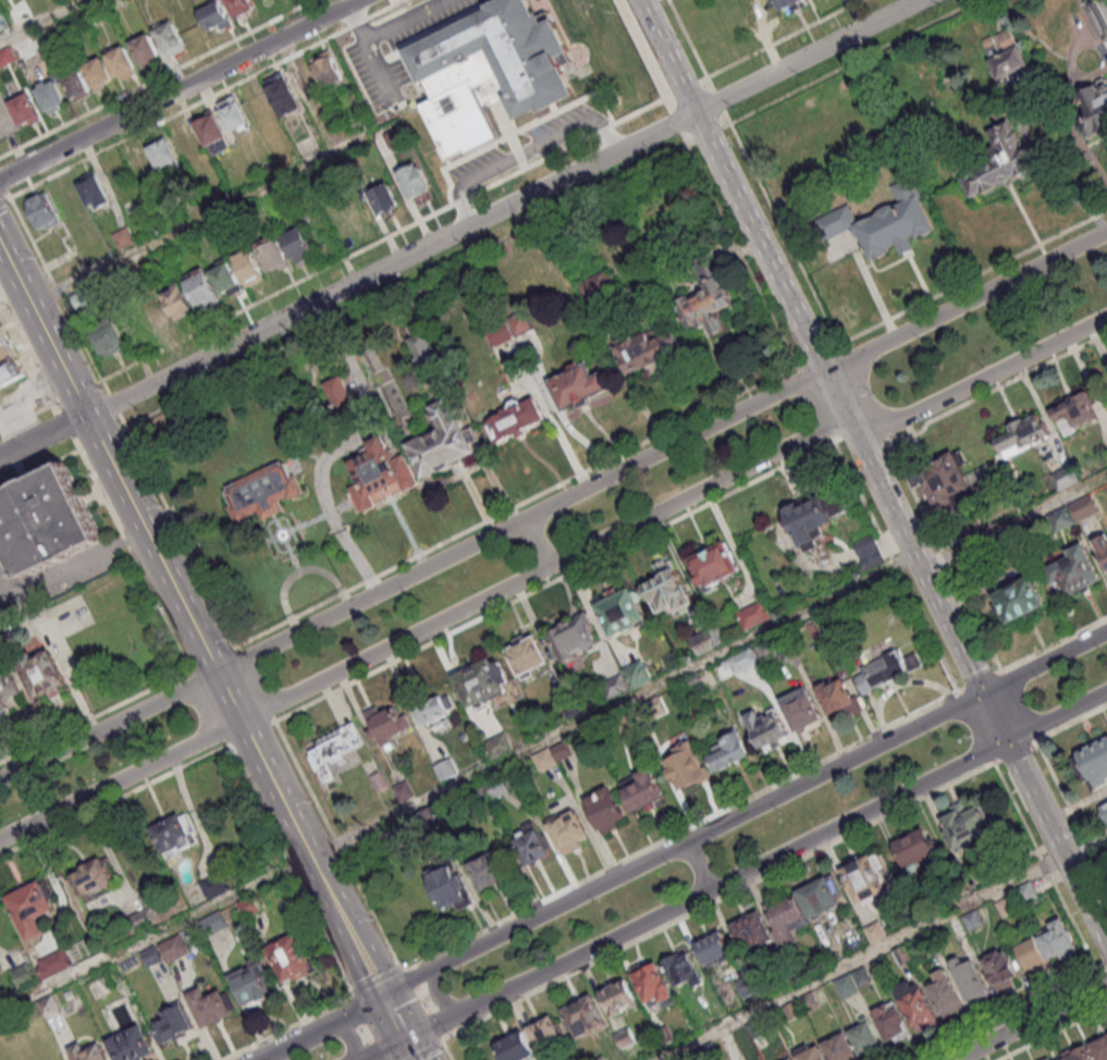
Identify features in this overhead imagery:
building: (788, 4)
building: (243, 8)
building: (214, 14)
building: (1099, 16)
parking lot: (3, 20)
road: (39, 20)
building: (168, 37)
road: (785, 39)
building: (1007, 39)
road: (691, 45)
building: (24, 49)
building: (144, 49)
parking lot: (397, 50)
road: (807, 54)
building: (8, 56)
road: (642, 56)
building: (120, 60)
road: (850, 63)
building: (1009, 63)
building: (328, 66)
building: (491, 70)
building: (96, 72)
building: (76, 85)
road: (177, 90)
building: (282, 94)
building: (50, 95)
road: (208, 99)
road: (718, 100)
building: (259, 106)
building: (24, 109)
building: (1094, 111)
building: (232, 113)
parking lot: (5, 120)
road: (675, 121)
parking lot: (562, 126)
building: (211, 132)
road: (710, 134)
building: (185, 140)
road: (525, 150)
building: (162, 152)
building: (1001, 163)
building: (140, 165)
parking lot: (479, 168)
road: (1038, 168)
building: (416, 181)
road: (2, 185)
building: (94, 188)
building: (384, 198)
road: (4, 200)
building: (42, 210)
road: (199, 219)
building: (882, 223)
road: (784, 230)
building: (123, 237)
road: (383, 239)
building: (297, 243)
road: (740, 250)
building: (272, 254)
road: (393, 264)
building: (247, 266)
building: (225, 278)
road: (969, 279)
road: (410, 284)
building: (596, 286)
building: (202, 287)
road: (58, 293)
building: (87, 298)
building: (177, 299)
building: (705, 301)
building: (157, 311)
building: (521, 324)
road: (44, 331)
building: (501, 334)
building: (108, 336)
building: (4, 344)
building: (423, 350)
building: (645, 350)
road: (29, 354)
road: (816, 356)
road: (353, 362)
building: (9, 366)
road: (979, 380)
building: (578, 386)
road: (995, 387)
road: (78, 392)
road: (865, 396)
parking lot: (16, 397)
building: (343, 399)
road: (815, 403)
road: (113, 404)
building: (1074, 408)
road: (558, 412)
road: (549, 417)
building: (515, 421)
road: (65, 423)
road: (58, 428)
building: (1023, 432)
road: (102, 440)
road: (864, 440)
building: (442, 443)
road: (15, 446)
road: (476, 447)
road: (15, 452)
road: (39, 468)
road: (873, 470)
building: (378, 476)
building: (1066, 478)
building: (943, 482)
road: (698, 490)
building: (263, 494)
road: (324, 497)
road: (553, 503)
road: (518, 505)
building: (1085, 508)
building: (46, 517)
building: (813, 519)
building: (1062, 519)
road: (1013, 521)
building: (969, 526)
road: (179, 531)
road: (538, 540)
building: (1013, 542)
road: (151, 545)
building: (1102, 550)
building: (870, 553)
road: (131, 554)
road: (945, 556)
road: (896, 564)
road: (63, 565)
building: (713, 567)
parking lot: (57, 571)
building: (1075, 572)
road: (555, 581)
building: (667, 590)
road: (8, 593)
building: (1019, 603)
building: (23, 606)
building: (620, 613)
building: (754, 616)
building: (816, 628)
building: (575, 640)
road: (394, 641)
building: (706, 642)
road: (1055, 644)
building: (768, 655)
building: (528, 657)
road: (213, 658)
building: (741, 662)
building: (886, 671)
building: (42, 676)
building: (638, 676)
building: (482, 682)
road: (981, 682)
road: (256, 683)
building: (616, 687)
building: (7, 690)
traffic signals: (983, 692)
road: (227, 695)
building: (839, 700)
road: (613, 706)
road: (208, 708)
building: (654, 708)
road: (1020, 708)
building: (802, 711)
building: (432, 712)
road: (95, 717)
road: (1071, 723)
building: (384, 726)
road: (976, 727)
building: (768, 731)
road: (249, 736)
traffic signals: (1008, 740)
building: (499, 747)
building: (336, 750)
building: (563, 752)
building: (729, 753)
road: (1017, 754)
building: (545, 762)
building: (1096, 764)
building: (687, 768)
building: (447, 772)
road: (120, 779)
building: (380, 782)
building: (497, 787)
building: (642, 790)
building: (405, 793)
building: (480, 794)
road: (772, 798)
road: (114, 802)
building: (606, 811)
building: (1105, 811)
road: (1072, 813)
building: (428, 818)
building: (968, 826)
road: (684, 831)
building: (569, 834)
building: (175, 836)
road: (1084, 843)
road: (337, 845)
building: (532, 847)
building: (918, 851)
road: (782, 852)
road: (309, 855)
road: (702, 863)
road: (1046, 864)
road: (291, 871)
building: (491, 873)
building: (991, 874)
building: (94, 879)
building: (865, 880)
building: (450, 886)
building: (217, 887)
building: (1029, 895)
road: (721, 900)
building: (820, 900)
building: (1007, 907)
building: (250, 908)
building: (30, 910)
building: (786, 920)
building: (144, 921)
building: (974, 922)
building: (216, 925)
building: (752, 933)
building: (876, 934)
road: (156, 936)
building: (930, 941)
building: (1060, 942)
building: (174, 951)
building: (715, 951)
road: (861, 957)
building: (903, 957)
building: (152, 958)
building: (1034, 958)
building: (293, 961)
road: (1103, 962)
building: (56, 965)
road: (405, 969)
building: (802, 970)
building: (681, 972)
building: (1000, 972)
building: (863, 977)
road: (1102, 977)
building: (24, 978)
building: (787, 978)
road: (408, 979)
building: (971, 981)
road: (377, 983)
building: (253, 985)
building: (653, 986)
building: (748, 987)
building: (847, 988)
road: (438, 993)
traffic signals: (380, 994)
building: (946, 995)
building: (619, 999)
road: (428, 1003)
building: (810, 1003)
building: (50, 1007)
traffic signals: (352, 1008)
building: (211, 1009)
building: (918, 1009)
building: (795, 1011)
road: (1005, 1013)
road: (391, 1016)
building: (586, 1019)
road: (1031, 1022)
building: (894, 1024)
road: (312, 1026)
road: (430, 1026)
building: (171, 1028)
road: (288, 1028)
road: (361, 1028)
building: (759, 1028)
road: (348, 1033)
road: (1054, 1033)
building: (546, 1036)
building: (665, 1036)
building: (626, 1038)
road: (442, 1039)
building: (866, 1039)
traffic signals: (403, 1040)
building: (132, 1046)
building: (516, 1048)
road: (381, 1049)
building: (840, 1049)
road: (407, 1050)
building: (1100, 1050)
road: (428, 1052)
road: (447, 1052)
building: (708, 1052)
building: (89, 1053)
traffic signals: (373, 1053)
building: (810, 1055)
building: (1079, 1055)
building: (603, 1058)
building: (792, 1059)

